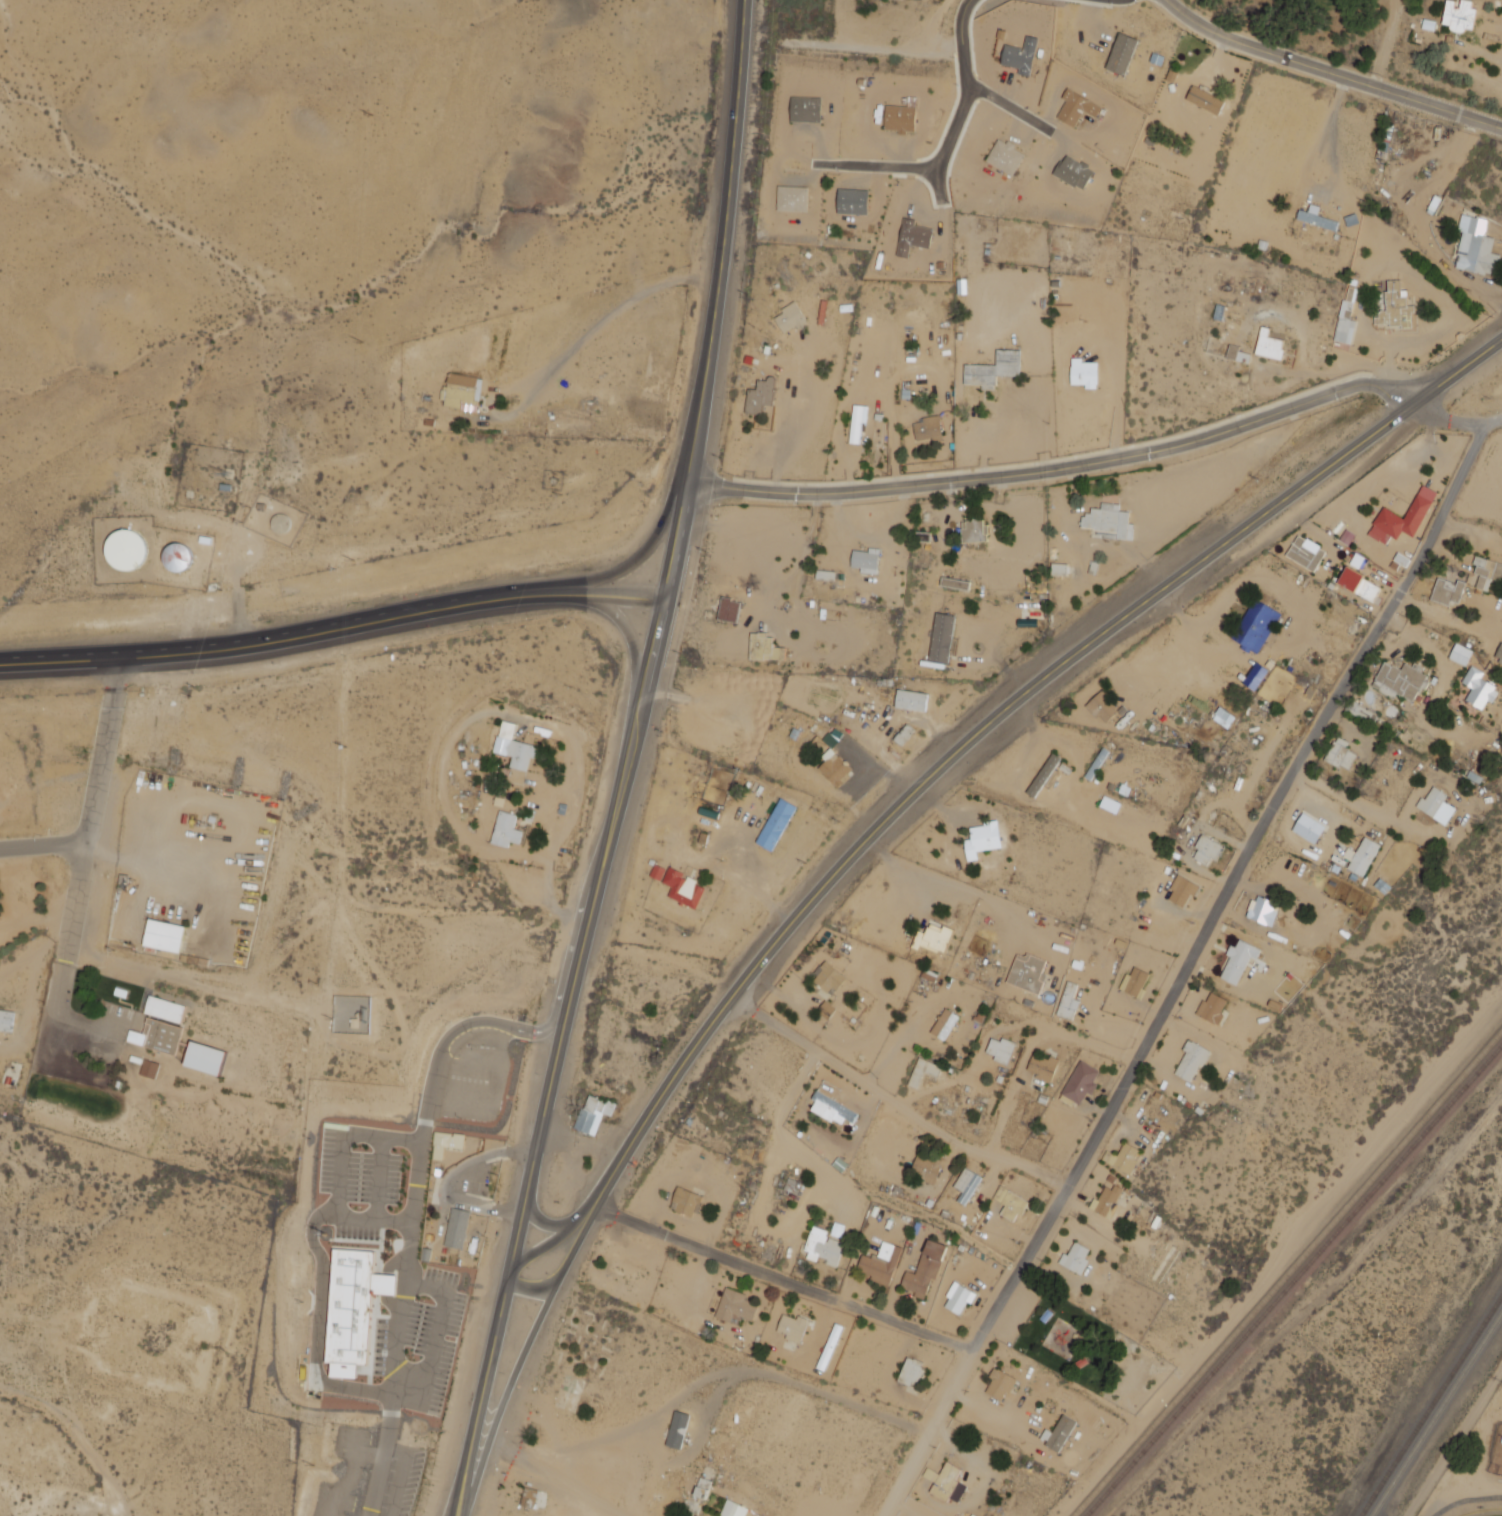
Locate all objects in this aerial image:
building: (1458, 14)
building: (1121, 53)
building: (1020, 55)
road: (1330, 73)
building: (1205, 99)
road: (1010, 105)
building: (1076, 107)
building: (805, 109)
building: (900, 117)
road: (948, 140)
building: (1005, 156)
building: (1073, 172)
road: (1305, 176)
road: (937, 181)
building: (792, 198)
building: (852, 201)
building: (1316, 217)
building: (912, 237)
building: (1475, 247)
road: (719, 300)
building: (1396, 308)
building: (790, 317)
building: (1346, 317)
building: (1269, 345)
building: (1236, 354)
building: (992, 369)
building: (1084, 373)
building: (463, 392)
building: (760, 396)
road: (1455, 419)
building: (857, 422)
building: (928, 427)
road: (1060, 468)
building: (1402, 518)
building: (1108, 521)
building: (282, 522)
storage tank: (282, 522)
building: (973, 530)
road: (650, 537)
building: (127, 549)
storage tank: (127, 549)
building: (1305, 552)
building: (178, 556)
storage tank: (178, 556)
building: (866, 560)
building: (1486, 572)
building: (825, 574)
building: (955, 583)
building: (1359, 584)
building: (1448, 591)
building: (728, 609)
road: (617, 614)
road: (334, 623)
building: (1256, 625)
building: (941, 637)
building: (764, 647)
building: (1460, 653)
building: (1499, 653)
building: (1256, 675)
building: (1399, 680)
road: (1036, 682)
building: (1478, 688)
building: (913, 700)
building: (1102, 707)
building: (1223, 717)
building: (718, 733)
building: (904, 734)
building: (514, 747)
building: (1340, 753)
building: (837, 768)
building: (1045, 776)
road: (1273, 803)
building: (1436, 805)
building: (777, 824)
road: (89, 825)
building: (1308, 828)
building: (507, 830)
building: (982, 839)
road: (43, 844)
building: (1206, 849)
building: (1361, 856)
building: (657, 871)
building: (685, 889)
building: (1182, 890)
building: (1263, 910)
road: (587, 931)
building: (164, 937)
building: (933, 939)
building: (1238, 960)
building: (1027, 972)
building: (828, 977)
building: (1134, 981)
building: (121, 993)
building: (1068, 1000)
building: (1212, 1008)
building: (166, 1010)
building: (7, 1021)
building: (944, 1023)
road: (546, 1028)
building: (161, 1046)
building: (1000, 1049)
building: (136, 1060)
building: (1191, 1061)
building: (1043, 1067)
building: (150, 1069)
building: (1080, 1083)
road: (897, 1095)
building: (832, 1108)
building: (590, 1115)
building: (444, 1145)
building: (1123, 1157)
building: (925, 1169)
road: (381, 1179)
building: (967, 1184)
building: (789, 1187)
road: (589, 1198)
building: (1107, 1200)
building: (1010, 1202)
building: (684, 1203)
road: (550, 1217)
road: (371, 1219)
building: (455, 1228)
building: (834, 1231)
road: (413, 1238)
building: (821, 1248)
road: (319, 1250)
building: (424, 1256)
building: (1075, 1257)
building: (880, 1263)
road: (1018, 1267)
building: (925, 1269)
building: (620, 1273)
road: (777, 1274)
railway: (1288, 1274)
railway: (1294, 1280)
road: (533, 1285)
building: (958, 1297)
road: (544, 1308)
building: (733, 1308)
building: (352, 1309)
parking lot: (1018, 1314)
building: (1043, 1317)
building: (790, 1329)
road: (437, 1331)
building: (822, 1348)
park: (1078, 1348)
building: (1078, 1364)
building: (910, 1374)
building: (1000, 1386)
road: (482, 1391)
railway: (1430, 1404)
railway: (1436, 1414)
building: (675, 1431)
road: (924, 1431)
building: (1055, 1435)
road: (1454, 1440)
road: (557, 1479)
building: (943, 1484)
building: (700, 1490)
building: (526, 1499)
building: (731, 1510)
building: (1486, 1512)
park: (1486, 1512)

